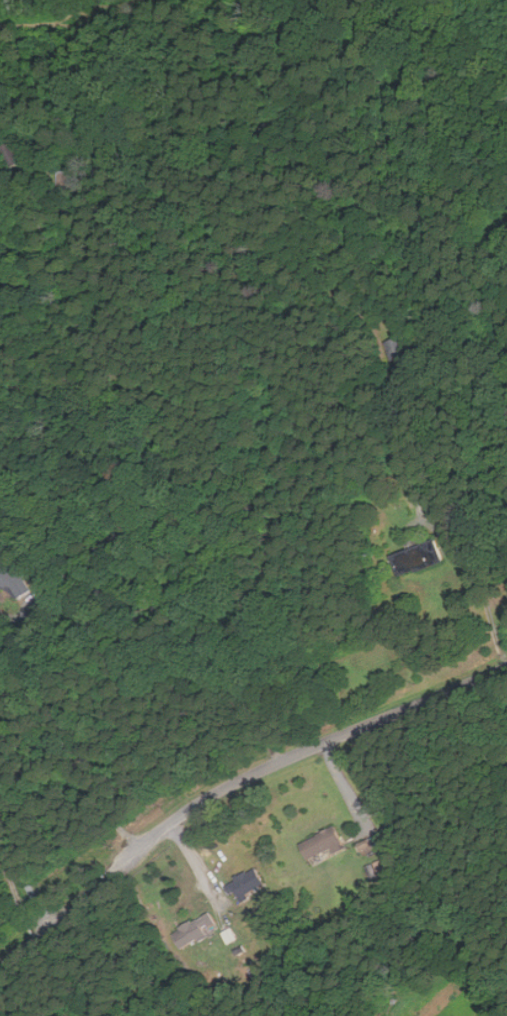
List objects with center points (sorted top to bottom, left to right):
building: (399, 350)
building: (414, 559)
building: (13, 580)
road: (55, 740)
road: (302, 752)
road: (341, 781)
building: (319, 843)
building: (366, 847)
road: (195, 864)
building: (384, 865)
road: (24, 881)
building: (244, 884)
road: (49, 920)
building: (193, 931)
building: (230, 936)

